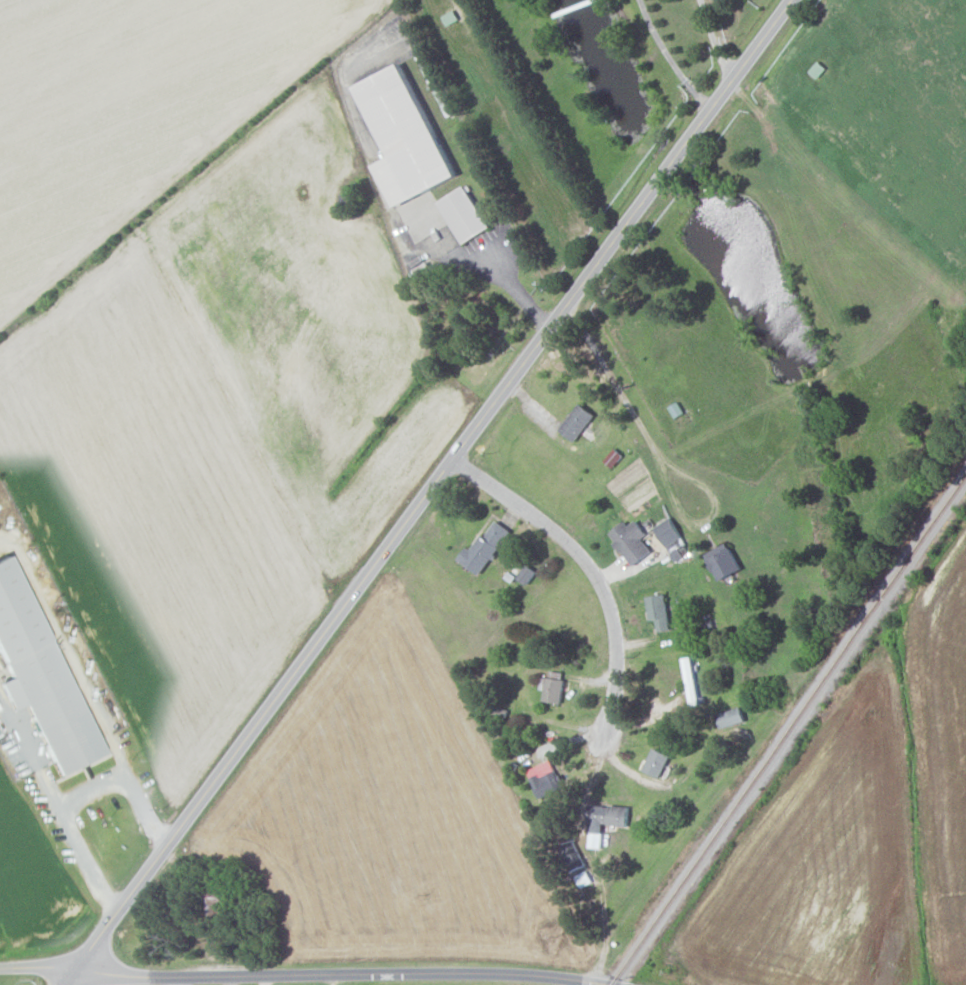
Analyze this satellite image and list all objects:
road: (714, 42)
road: (669, 59)
building: (401, 137)
building: (462, 215)
road: (518, 292)
building: (575, 420)
road: (660, 458)
road: (429, 492)
building: (667, 531)
building: (629, 540)
building: (483, 547)
building: (721, 560)
road: (586, 567)
building: (525, 573)
building: (657, 610)
building: (39, 673)
building: (551, 686)
building: (729, 716)
railway: (788, 730)
building: (655, 762)
building: (543, 777)
road: (79, 791)
building: (603, 820)
building: (571, 854)
road: (302, 978)

